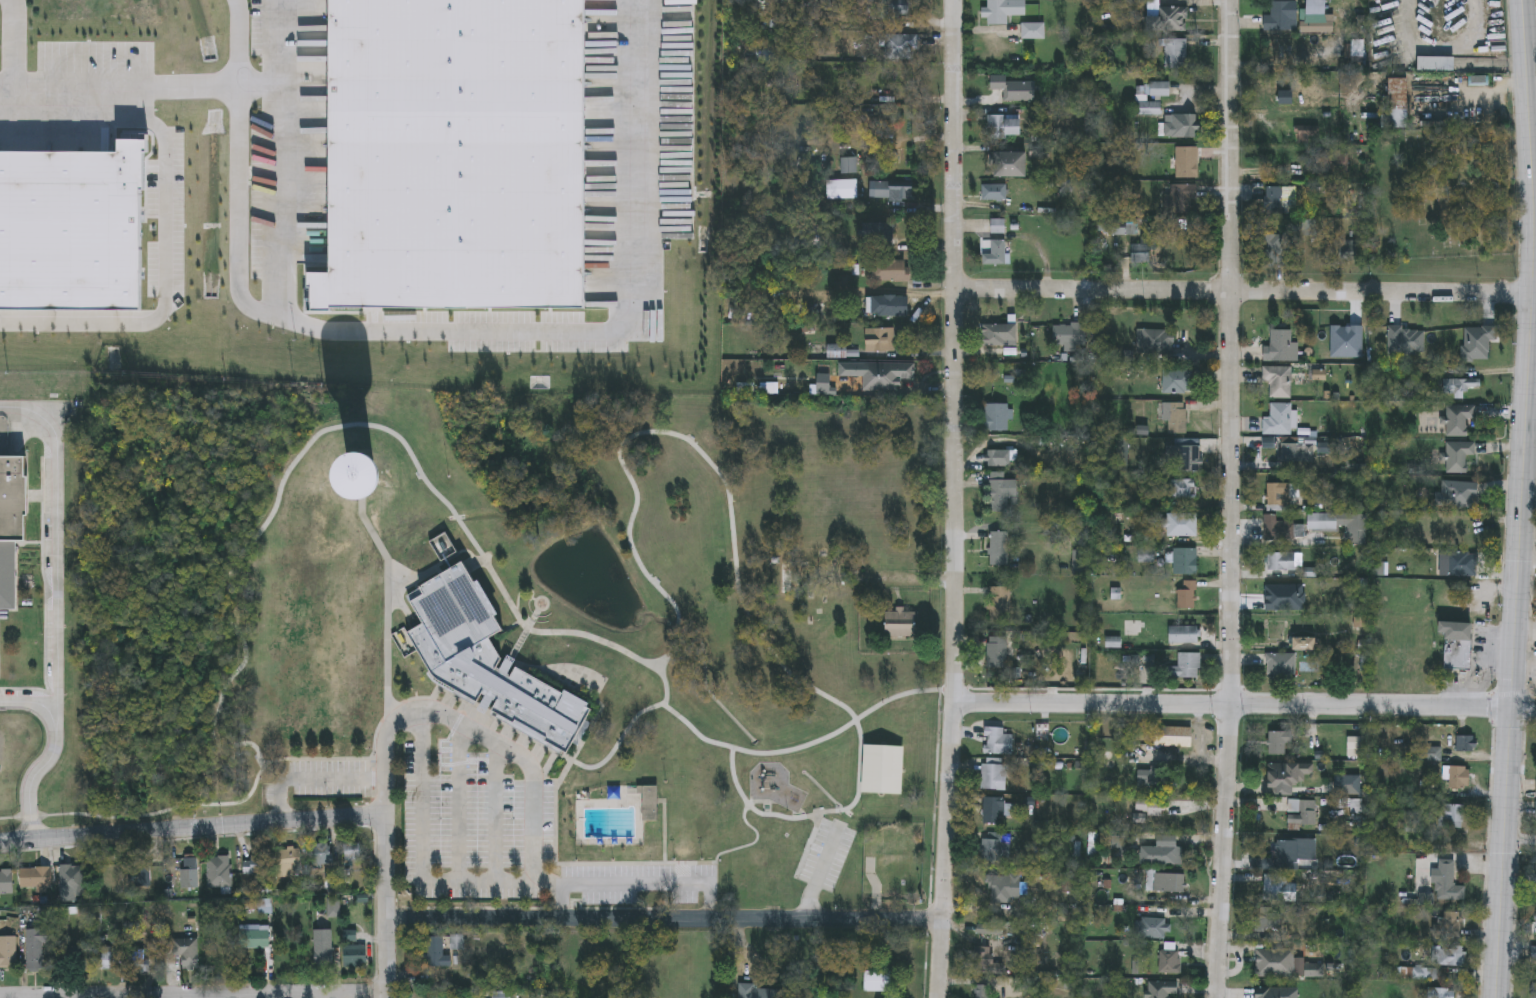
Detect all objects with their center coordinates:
building: (892, 10)
building: (1002, 11)
building: (1284, 16)
building: (1167, 18)
building: (1032, 31)
road: (278, 41)
road: (12, 46)
building: (900, 47)
building: (1276, 50)
building: (1175, 53)
building: (1439, 58)
road: (225, 85)
building: (1001, 90)
road: (1475, 95)
building: (1285, 97)
building: (1140, 99)
building: (1394, 103)
building: (1179, 126)
building: (1004, 127)
building: (1186, 162)
building: (1010, 164)
building: (1335, 164)
building: (993, 192)
building: (893, 194)
building: (1181, 200)
building: (1272, 200)
road: (165, 214)
building: (998, 226)
building: (1122, 227)
building: (1273, 250)
building: (1143, 251)
building: (1347, 251)
building: (996, 253)
building: (891, 271)
road: (1244, 292)
road: (276, 305)
building: (886, 306)
road: (614, 329)
building: (998, 335)
building: (1068, 335)
building: (877, 337)
building: (1155, 342)
building: (1279, 346)
building: (887, 376)
building: (1178, 381)
building: (1278, 381)
road: (1532, 382)
building: (1458, 385)
building: (997, 417)
building: (1177, 418)
building: (1277, 419)
building: (1457, 419)
building: (1292, 452)
building: (1457, 456)
building: (1000, 458)
building: (1187, 459)
water tower: (372, 476)
building: (377, 478)
building: (1182, 488)
building: (999, 491)
building: (1459, 494)
building: (1277, 496)
road: (954, 499)
road: (1230, 499)
road: (1521, 499)
building: (1181, 524)
building: (12, 525)
building: (1339, 525)
building: (1281, 528)
building: (998, 548)
building: (1183, 561)
building: (1283, 561)
building: (1461, 563)
road: (52, 574)
building: (1185, 595)
building: (998, 604)
building: (900, 624)
park: (531, 632)
building: (1183, 634)
building: (1303, 643)
building: (1456, 645)
building: (996, 652)
building: (490, 664)
building: (1187, 665)
building: (1280, 665)
road: (1245, 703)
building: (1172, 734)
building: (996, 739)
building: (1277, 740)
building: (1462, 740)
building: (882, 768)
building: (992, 773)
building: (1286, 773)
building: (1458, 775)
road: (38, 776)
building: (1151, 777)
road: (309, 778)
building: (1346, 783)
road: (532, 805)
building: (649, 805)
building: (1148, 805)
road: (460, 806)
building: (993, 809)
building: (1302, 809)
building: (1449, 813)
road: (494, 814)
road: (191, 828)
building: (995, 844)
building: (1158, 849)
building: (1292, 850)
building: (351, 851)
road: (421, 853)
building: (322, 854)
building: (289, 859)
building: (256, 864)
building: (219, 871)
building: (186, 876)
building: (36, 878)
building: (71, 878)
building: (1445, 880)
building: (6, 881)
building: (1164, 881)
building: (1003, 884)
building: (1278, 886)
road: (560, 901)
road: (384, 906)
building: (1266, 916)
road: (664, 919)
building: (1448, 924)
building: (1151, 926)
building: (989, 927)
building: (255, 937)
building: (457, 941)
building: (35, 947)
building: (323, 948)
building: (8, 951)
building: (186, 951)
building: (436, 952)
building: (1448, 953)
building: (354, 955)
building: (1534, 957)
building: (102, 960)
building: (984, 960)
building: (1168, 960)
building: (139, 961)
building: (1273, 961)
building: (1425, 971)
building: (878, 980)
building: (1160, 988)
building: (760, 991)
building: (983, 991)
building: (1534, 991)
building: (1440, 992)
road: (234, 997)

